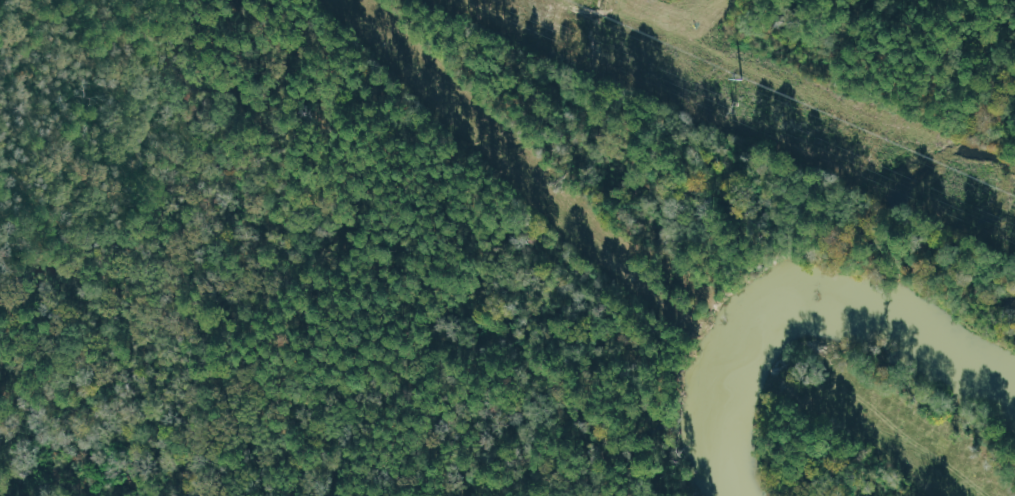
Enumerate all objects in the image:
power tower: (733, 108)
river: (794, 292)

